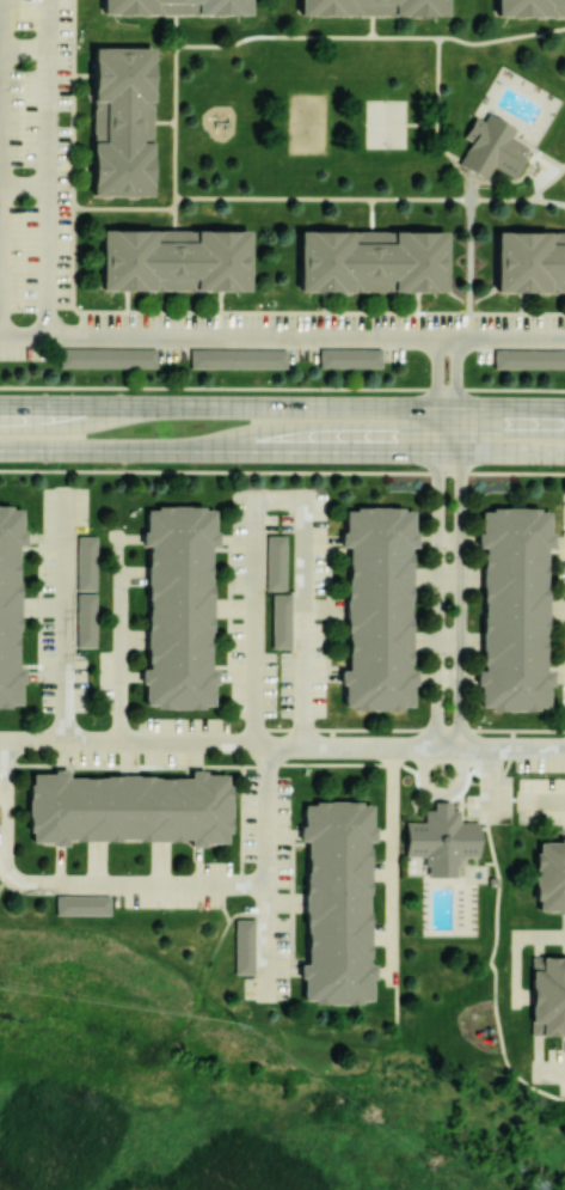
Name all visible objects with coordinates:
building: (529, 6)
building: (176, 7)
building: (371, 8)
road: (370, 25)
road: (368, 35)
road: (436, 114)
road: (161, 120)
road: (173, 121)
road: (422, 122)
building: (118, 123)
park: (385, 123)
park: (307, 124)
building: (493, 147)
road: (548, 158)
road: (48, 167)
road: (547, 182)
road: (369, 196)
road: (110, 206)
road: (468, 254)
building: (173, 258)
building: (370, 260)
building: (528, 262)
road: (164, 311)
road: (228, 337)
road: (511, 338)
building: (110, 360)
building: (352, 360)
building: (240, 361)
building: (530, 362)
road: (436, 372)
road: (456, 372)
street lamp: (139, 392)
street lamp: (323, 393)
road: (59, 405)
road: (278, 405)
road: (447, 407)
road: (510, 408)
road: (437, 429)
road: (459, 429)
road: (112, 450)
road: (331, 451)
road: (449, 452)
road: (512, 452)
street lamp: (233, 466)
street lamp: (51, 468)
street lamp: (417, 469)
street lamp: (540, 469)
street lamp: (452, 482)
road: (278, 500)
street lamp: (92, 529)
street lamp: (280, 529)
street lamp: (37, 532)
road: (45, 539)
road: (237, 541)
road: (323, 541)
road: (560, 542)
road: (448, 543)
road: (30, 549)
road: (221, 551)
road: (340, 551)
road: (554, 553)
street lamp: (450, 557)
building: (278, 565)
building: (88, 566)
road: (448, 579)
street lamp: (37, 596)
road: (437, 599)
road: (460, 600)
road: (39, 608)
building: (182, 609)
road: (231, 609)
road: (330, 609)
building: (381, 609)
building: (11, 610)
road: (561, 610)
building: (517, 611)
road: (65, 618)
building: (88, 623)
building: (284, 624)
road: (119, 640)
road: (448, 642)
street lamp: (280, 658)
street lamp: (450, 663)
road: (30, 666)
road: (222, 667)
road: (342, 669)
road: (554, 670)
road: (47, 677)
road: (238, 677)
road: (324, 678)
road: (448, 678)
road: (560, 679)
street lamp: (37, 684)
street lamp: (278, 712)
street lamp: (180, 718)
street lamp: (94, 722)
street lamp: (450, 722)
road: (383, 728)
road: (538, 730)
road: (31, 744)
road: (162, 745)
road: (346, 746)
road: (460, 750)
road: (528, 750)
street lamp: (36, 753)
road: (294, 763)
road: (75, 770)
road: (190, 771)
flagpole: (409, 781)
road: (490, 786)
road: (441, 794)
parking lot: (493, 801)
road: (546, 803)
road: (462, 805)
road: (475, 805)
building: (130, 808)
road: (266, 816)
street lamp: (297, 828)
road: (485, 830)
street lamp: (559, 830)
road: (284, 835)
building: (442, 840)
road: (302, 844)
street lamp: (215, 861)
road: (5, 863)
road: (392, 865)
road: (491, 865)
street lamp: (43, 872)
street lamp: (130, 872)
building: (552, 878)
building: (493, 883)
road: (190, 886)
street lamp: (299, 887)
building: (342, 902)
road: (293, 903)
building: (84, 907)
street lamp: (164, 913)
road: (266, 941)
building: (246, 947)
road: (517, 947)
street lamp: (297, 958)
road: (303, 962)
building: (538, 965)
road: (285, 972)
road: (497, 976)
building: (549, 997)
building: (538, 1030)
street lamp: (557, 1049)
road: (549, 1070)

